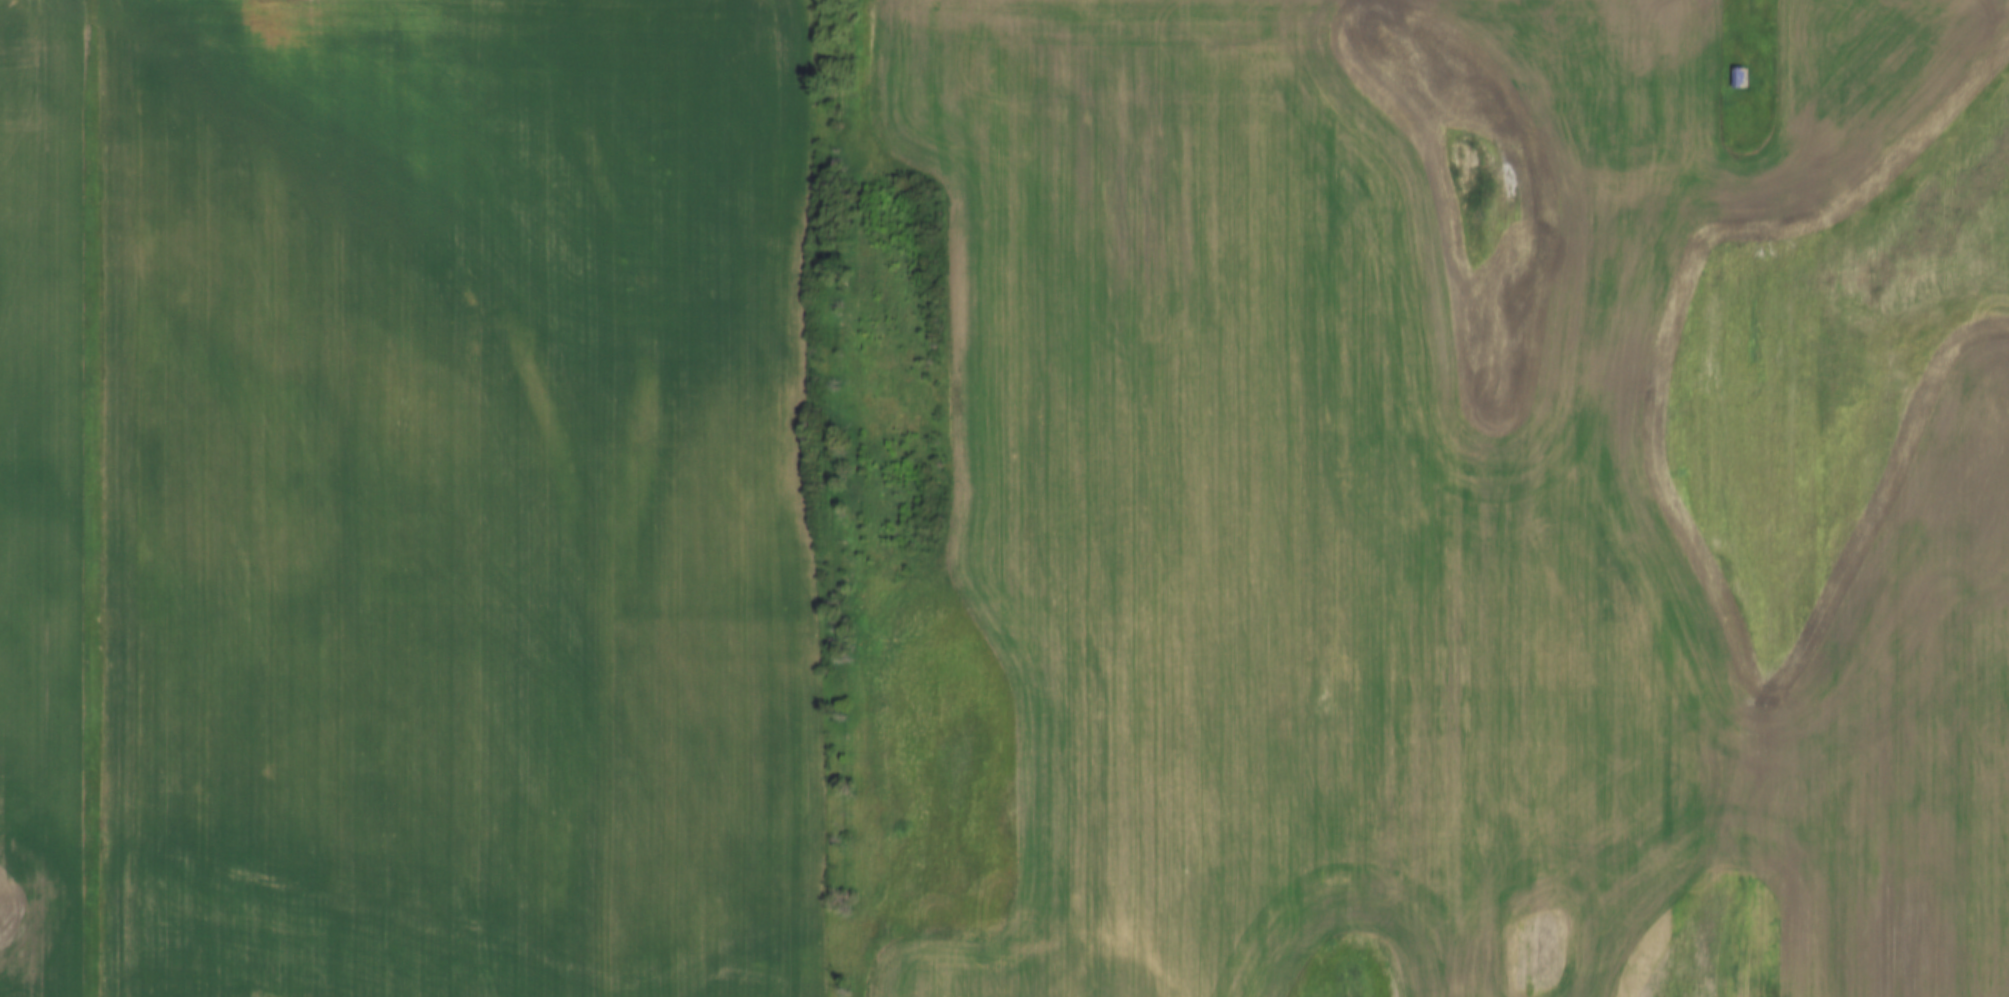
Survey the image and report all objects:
building: (1744, 74)

